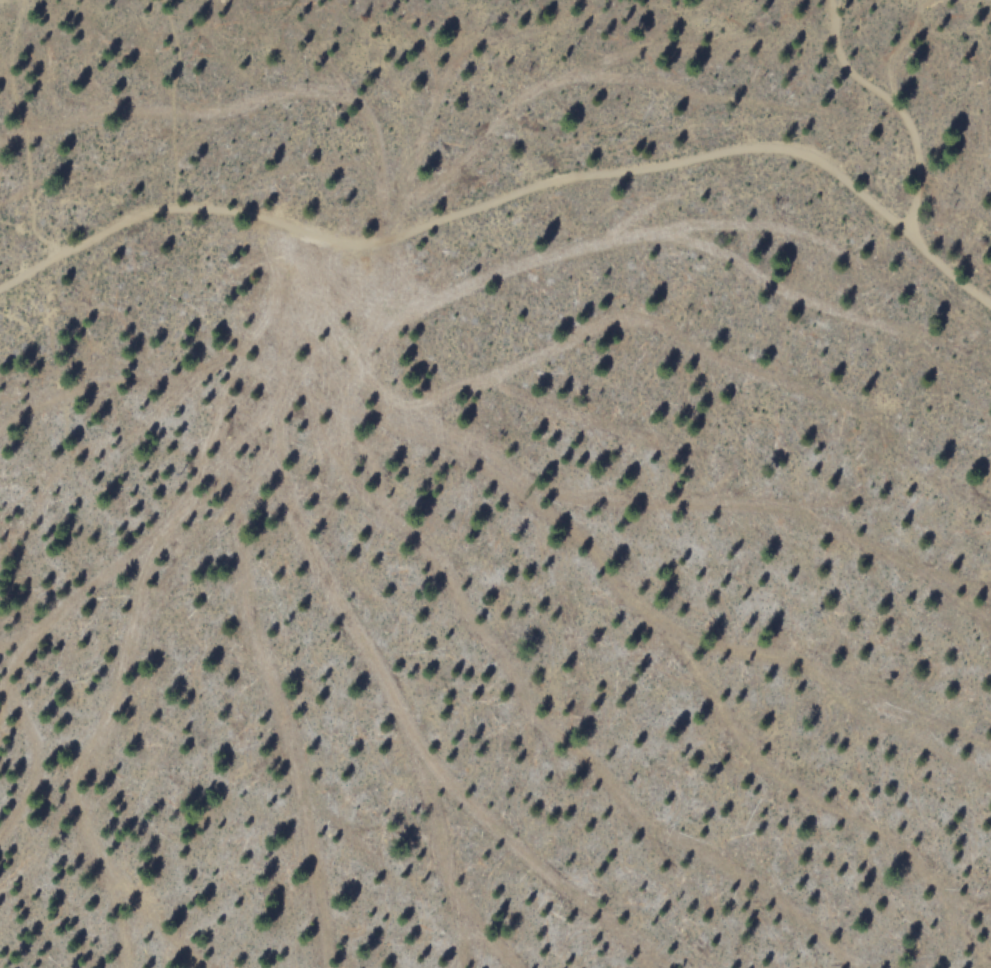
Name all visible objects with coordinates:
road: (901, 109)
road: (509, 194)

